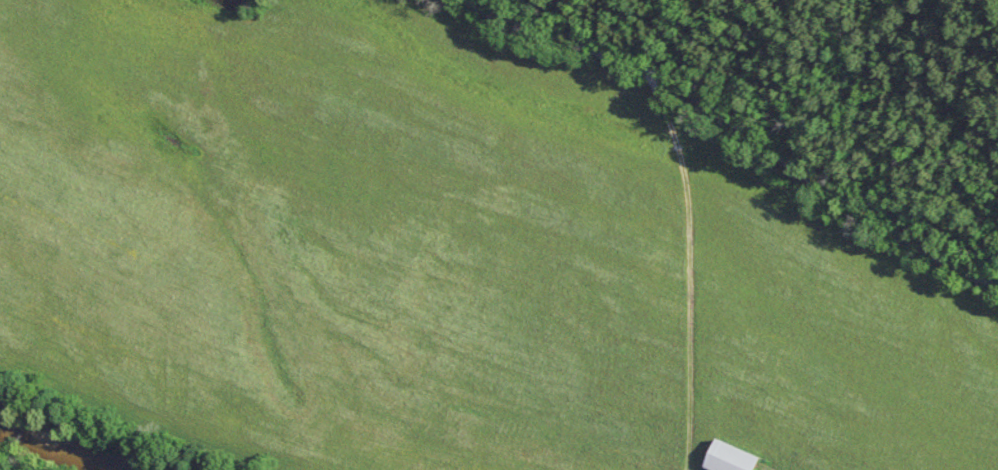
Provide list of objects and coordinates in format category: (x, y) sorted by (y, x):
road: (745, 143)
river: (64, 440)
building: (736, 458)

